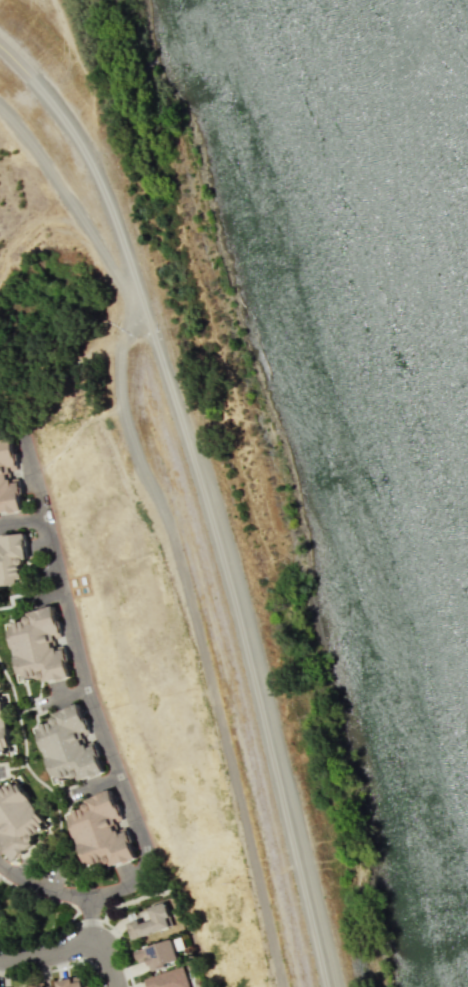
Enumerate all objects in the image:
road: (95, 170)
river: (400, 245)
road: (29, 462)
building: (12, 483)
road: (22, 520)
building: (15, 562)
building: (42, 648)
road: (246, 648)
road: (98, 723)
building: (3, 729)
building: (73, 744)
building: (17, 817)
building: (107, 832)
road: (2, 866)
road: (41, 886)
park: (131, 901)
park: (33, 917)
road: (91, 919)
building: (151, 922)
street lamp: (107, 925)
road: (47, 954)
building: (157, 954)
road: (106, 962)
building: (168, 979)
building: (68, 983)
building: (46, 986)

